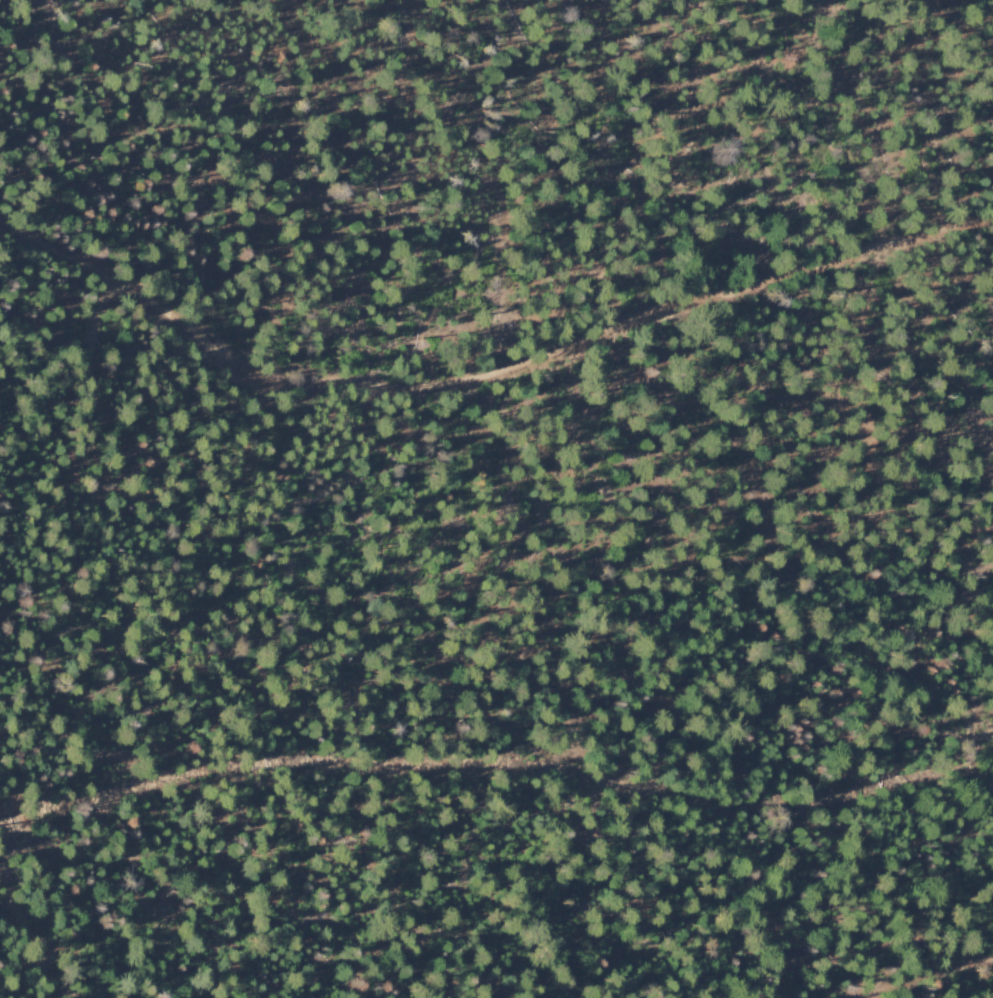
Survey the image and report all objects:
road: (484, 379)
road: (410, 764)
road: (930, 971)

